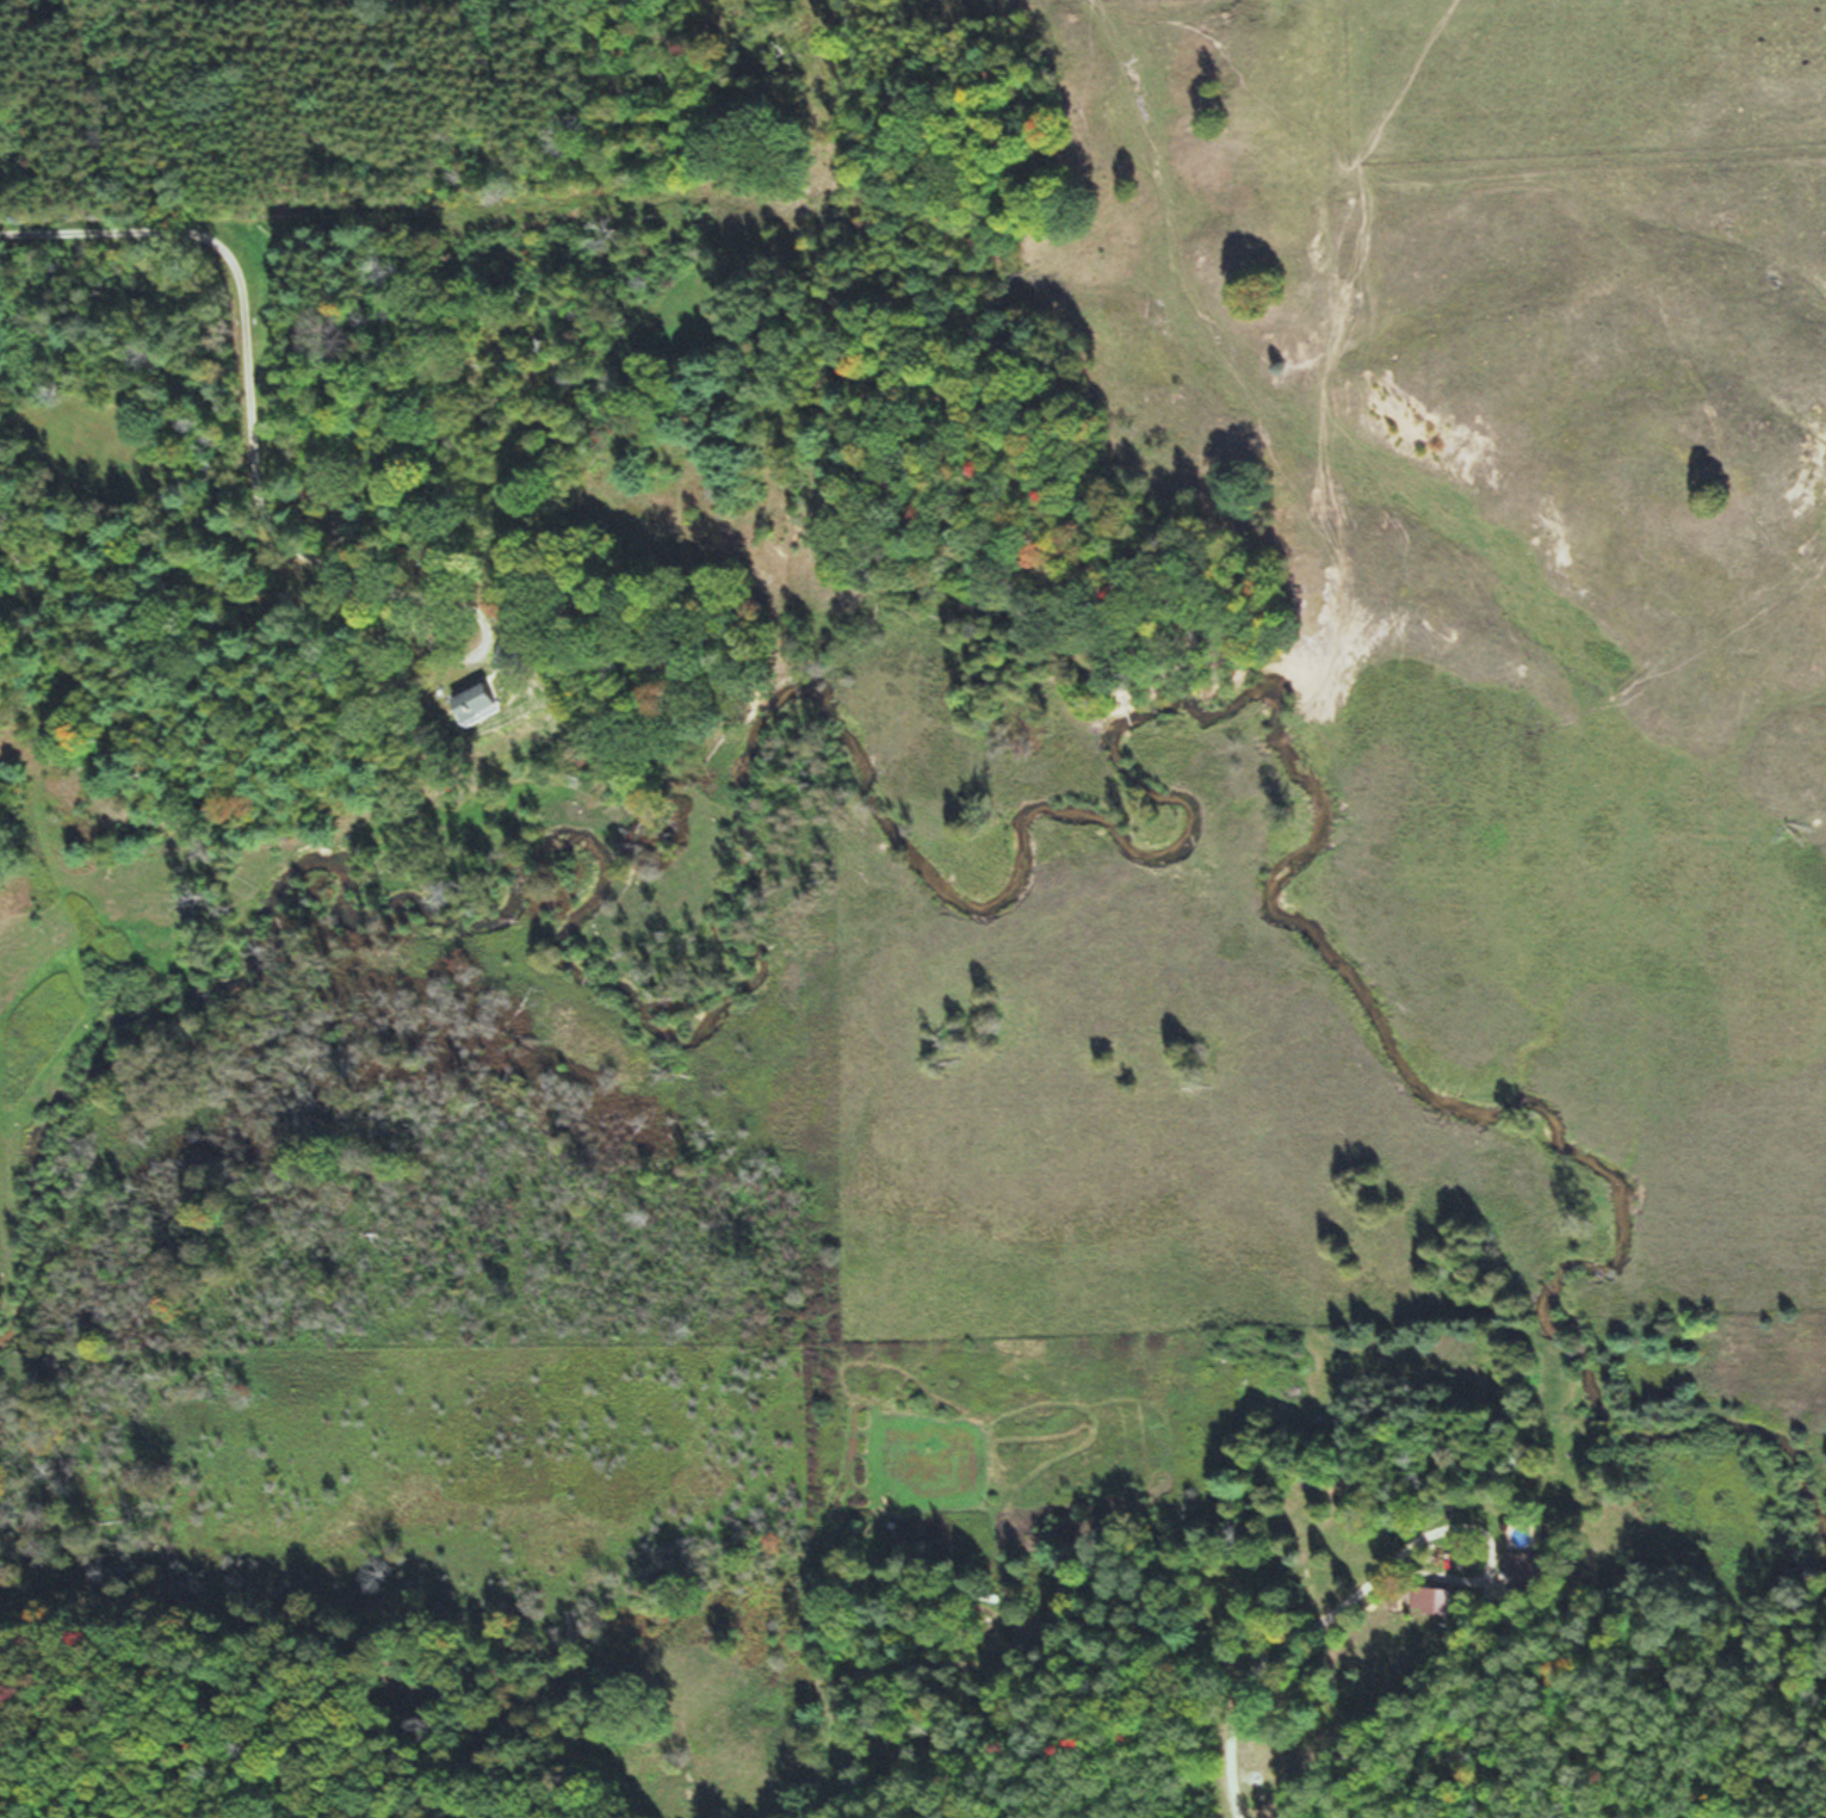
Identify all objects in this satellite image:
building: (470, 700)
building: (1428, 1599)
road: (1218, 1696)

